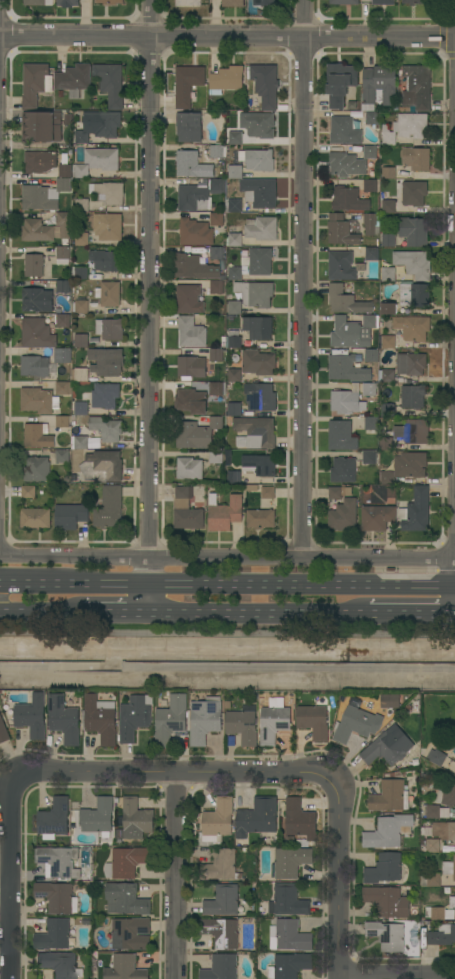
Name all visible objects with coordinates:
building: (109, 2)
building: (344, 2)
building: (383, 2)
building: (415, 2)
building: (35, 3)
building: (68, 3)
building: (188, 3)
building: (233, 3)
building: (264, 3)
road: (227, 38)
building: (74, 78)
building: (227, 80)
building: (110, 83)
building: (36, 84)
building: (188, 84)
building: (340, 84)
building: (379, 84)
building: (267, 86)
building: (417, 88)
building: (75, 95)
building: (67, 119)
building: (372, 119)
building: (102, 124)
building: (258, 125)
building: (42, 127)
building: (188, 127)
building: (405, 128)
building: (345, 131)
building: (235, 137)
building: (81, 138)
building: (217, 151)
building: (370, 152)
building: (416, 158)
building: (102, 159)
building: (258, 160)
building: (40, 161)
building: (187, 163)
building: (347, 165)
building: (65, 171)
building: (81, 171)
building: (235, 172)
building: (388, 173)
building: (64, 185)
building: (372, 186)
building: (259, 192)
building: (110, 193)
building: (414, 194)
building: (200, 195)
building: (38, 198)
building: (349, 200)
building: (82, 205)
building: (233, 205)
building: (388, 206)
building: (217, 219)
building: (64, 224)
building: (372, 224)
building: (108, 227)
building: (261, 228)
building: (341, 230)
building: (37, 231)
building: (413, 231)
building: (195, 233)
building: (81, 239)
building: (235, 239)
building: (388, 240)
building: (62, 252)
building: (216, 253)
building: (372, 254)
building: (107, 260)
building: (259, 261)
building: (414, 264)
building: (34, 266)
building: (343, 266)
building: (193, 267)
building: (80, 273)
building: (235, 273)
building: (388, 274)
road: (302, 279)
building: (63, 287)
building: (216, 287)
building: (109, 294)
building: (414, 295)
building: (250, 296)
building: (188, 299)
building: (37, 300)
building: (346, 301)
road: (148, 306)
building: (80, 307)
building: (387, 309)
building: (63, 320)
building: (257, 327)
building: (412, 327)
building: (109, 329)
building: (353, 332)
building: (192, 333)
building: (37, 334)
building: (235, 339)
building: (81, 341)
building: (388, 342)
building: (216, 355)
building: (63, 356)
building: (371, 356)
building: (106, 362)
building: (258, 363)
building: (411, 364)
building: (35, 366)
building: (193, 367)
building: (347, 369)
building: (80, 375)
building: (234, 375)
building: (386, 376)
building: (44, 384)
building: (64, 388)
building: (216, 389)
building: (369, 389)
building: (105, 396)
building: (260, 397)
building: (413, 397)
building: (39, 401)
building: (191, 401)
building: (346, 403)
building: (81, 408)
building: (234, 409)
building: (388, 410)
building: (62, 422)
building: (371, 424)
building: (106, 429)
building: (257, 432)
building: (413, 432)
building: (196, 434)
building: (38, 436)
building: (341, 436)
building: (81, 442)
building: (385, 444)
building: (62, 456)
building: (216, 457)
building: (369, 457)
building: (260, 465)
building: (102, 467)
building: (406, 467)
building: (36, 469)
building: (189, 469)
building: (344, 471)
building: (234, 477)
building: (28, 491)
building: (340, 492)
building: (268, 493)
building: (109, 508)
building: (186, 510)
building: (416, 511)
building: (224, 513)
building: (344, 515)
building: (70, 516)
building: (36, 518)
building: (378, 518)
building: (260, 519)
road: (227, 558)
road: (227, 581)
road: (301, 613)
road: (42, 614)
road: (116, 614)
road: (58, 666)
building: (390, 701)
building: (32, 716)
building: (134, 717)
building: (101, 719)
building: (64, 720)
building: (171, 720)
building: (205, 720)
building: (314, 721)
building: (273, 724)
building: (356, 725)
building: (242, 727)
building: (3, 731)
building: (232, 742)
building: (388, 747)
building: (436, 757)
road: (177, 774)
building: (447, 795)
building: (390, 797)
building: (437, 812)
building: (55, 817)
building: (98, 817)
building: (258, 817)
building: (136, 819)
building: (300, 820)
building: (218, 821)
building: (444, 830)
building: (387, 832)
building: (433, 846)
building: (59, 861)
building: (127, 862)
building: (290, 862)
building: (222, 865)
building: (449, 868)
building: (384, 869)
road: (175, 877)
road: (9, 880)
building: (430, 880)
road: (339, 881)
building: (57, 897)
road: (4, 899)
building: (126, 899)
building: (223, 901)
building: (288, 901)
building: (387, 901)
building: (452, 903)
building: (439, 913)
building: (221, 932)
building: (53, 934)
building: (131, 934)
building: (388, 935)
building: (290, 936)
building: (442, 936)
building: (58, 964)
building: (290, 966)
building: (221, 967)
building: (125, 968)
road: (397, 975)

